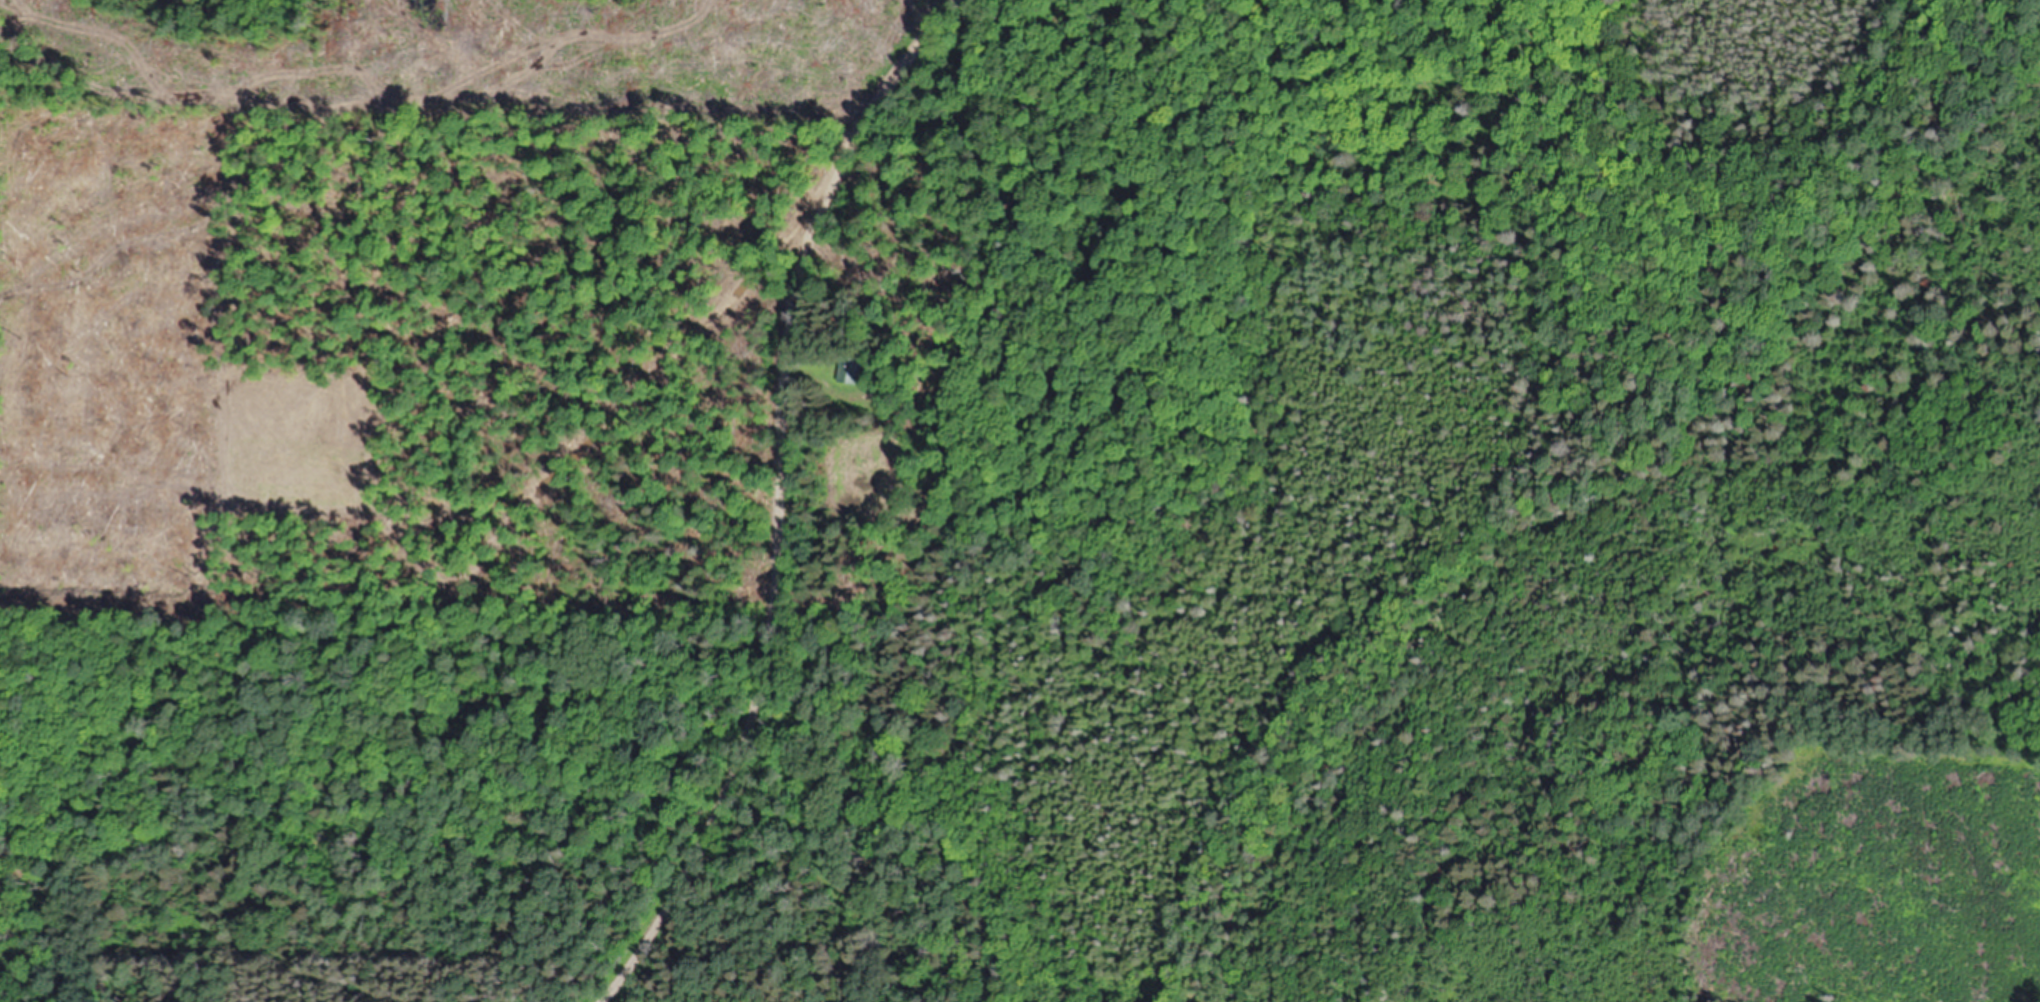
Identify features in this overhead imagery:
building: (859, 368)
road: (781, 500)
road: (831, 871)

